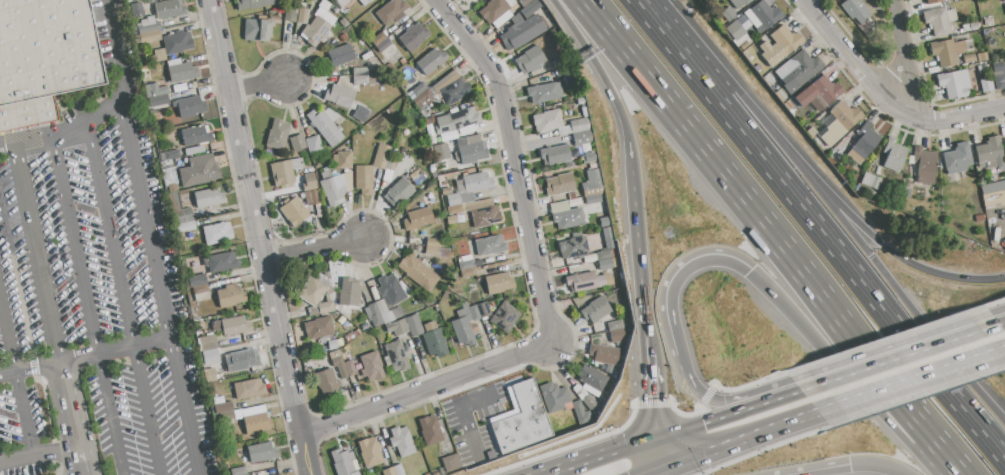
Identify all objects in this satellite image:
building: (468, 0)
building: (471, 0)
building: (1004, 0)
building: (366, 1)
building: (933, 1)
building: (525, 2)
building: (251, 3)
building: (341, 3)
building: (740, 3)
building: (324, 5)
building: (530, 8)
building: (169, 9)
building: (136, 10)
building: (493, 10)
building: (391, 11)
building: (856, 11)
building: (727, 13)
building: (290, 14)
building: (301, 15)
building: (762, 15)
building: (325, 16)
building: (939, 20)
building: (148, 25)
building: (257, 28)
road: (667, 29)
building: (315, 30)
building: (523, 32)
road: (117, 33)
building: (736, 34)
building: (149, 36)
building: (413, 37)
building: (378, 38)
building: (177, 42)
building: (777, 45)
building: (947, 52)
road: (906, 53)
building: (159, 55)
building: (338, 56)
building: (981, 57)
building: (43, 58)
building: (530, 59)
building: (968, 59)
building: (431, 61)
building: (558, 63)
building: (798, 70)
building: (359, 71)
building: (182, 72)
building: (570, 77)
building: (360, 80)
road: (602, 80)
building: (447, 81)
building: (999, 81)
road: (126, 82)
building: (954, 83)
building: (986, 84)
road: (256, 85)
building: (418, 89)
building: (155, 90)
building: (454, 90)
building: (544, 92)
building: (816, 94)
building: (339, 96)
road: (887, 96)
building: (423, 99)
building: (158, 100)
building: (189, 107)
building: (359, 113)
road: (103, 114)
building: (456, 120)
building: (548, 120)
building: (837, 122)
building: (326, 125)
building: (466, 129)
building: (580, 132)
building: (278, 134)
building: (195, 135)
road: (43, 139)
building: (436, 139)
building: (1004, 140)
building: (297, 143)
building: (863, 143)
building: (314, 145)
building: (442, 146)
building: (471, 153)
building: (991, 153)
building: (894, 154)
building: (170, 155)
building: (555, 155)
building: (381, 156)
building: (589, 157)
building: (957, 159)
road: (17, 161)
building: (341, 162)
road: (516, 162)
building: (166, 163)
building: (925, 165)
building: (198, 171)
building: (285, 171)
building: (169, 176)
building: (362, 177)
building: (870, 181)
building: (309, 182)
building: (559, 184)
building: (592, 184)
building: (472, 185)
building: (992, 186)
building: (172, 188)
building: (974, 190)
building: (446, 191)
building: (329, 192)
building: (869, 192)
building: (398, 193)
building: (572, 195)
building: (311, 196)
building: (208, 197)
road: (832, 198)
building: (592, 199)
building: (453, 200)
building: (173, 201)
building: (469, 206)
building: (293, 211)
building: (485, 215)
building: (565, 215)
building: (181, 216)
road: (253, 217)
building: (421, 217)
road: (759, 219)
building: (451, 220)
building: (604, 222)
building: (185, 226)
building: (216, 233)
building: (607, 233)
building: (432, 242)
building: (1004, 243)
building: (490, 245)
building: (574, 246)
road: (36, 250)
road: (313, 251)
building: (431, 251)
parking lot: (88, 252)
building: (443, 252)
road: (642, 252)
building: (606, 254)
building: (221, 261)
road: (845, 262)
building: (466, 264)
building: (605, 264)
building: (468, 272)
building: (419, 273)
road: (887, 276)
building: (197, 280)
building: (585, 281)
building: (498, 283)
road: (159, 286)
road: (675, 287)
building: (200, 289)
building: (390, 289)
building: (312, 291)
building: (349, 293)
building: (230, 295)
building: (201, 297)
building: (329, 297)
road: (123, 302)
road: (90, 305)
building: (325, 307)
building: (483, 309)
building: (596, 309)
building: (388, 312)
building: (474, 312)
building: (374, 315)
building: (505, 317)
road: (1001, 323)
building: (414, 325)
building: (615, 325)
building: (235, 326)
building: (399, 327)
building: (318, 328)
building: (462, 331)
building: (616, 335)
building: (434, 339)
road: (57, 342)
building: (207, 342)
building: (335, 354)
building: (604, 354)
road: (843, 355)
road: (85, 356)
building: (210, 356)
building: (396, 356)
road: (900, 358)
building: (241, 360)
building: (372, 365)
building: (339, 366)
building: (349, 368)
building: (210, 374)
road: (16, 376)
building: (592, 377)
road: (909, 378)
building: (327, 382)
road: (651, 388)
building: (248, 390)
road: (424, 390)
traffic signals: (652, 395)
road: (790, 395)
building: (555, 396)
road: (728, 399)
building: (590, 402)
road: (69, 403)
building: (222, 407)
building: (581, 413)
building: (226, 416)
road: (717, 418)
building: (522, 421)
building: (257, 422)
traffic signals: (704, 423)
building: (430, 430)
road: (740, 437)
building: (401, 441)
building: (495, 450)
road: (661, 451)
building: (261, 452)
building: (369, 452)
road: (38, 453)
building: (487, 453)
road: (303, 455)
building: (477, 457)
road: (604, 457)
road: (951, 458)
road: (80, 460)
building: (342, 462)
building: (451, 463)
road: (876, 465)
road: (652, 469)
road: (817, 469)
building: (398, 470)
building: (238, 471)
building: (390, 471)
building: (354, 473)
building: (279, 474)

